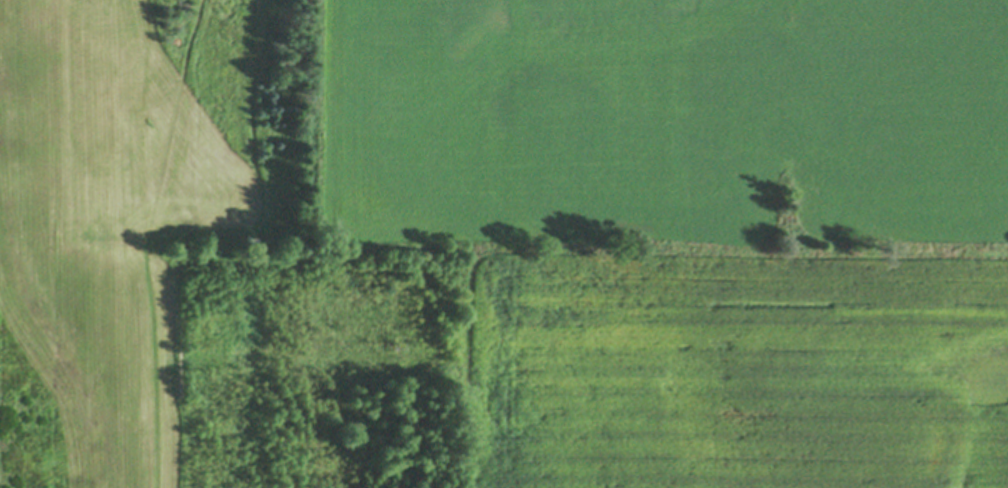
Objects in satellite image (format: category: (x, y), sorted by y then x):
crop: (739, 375)

